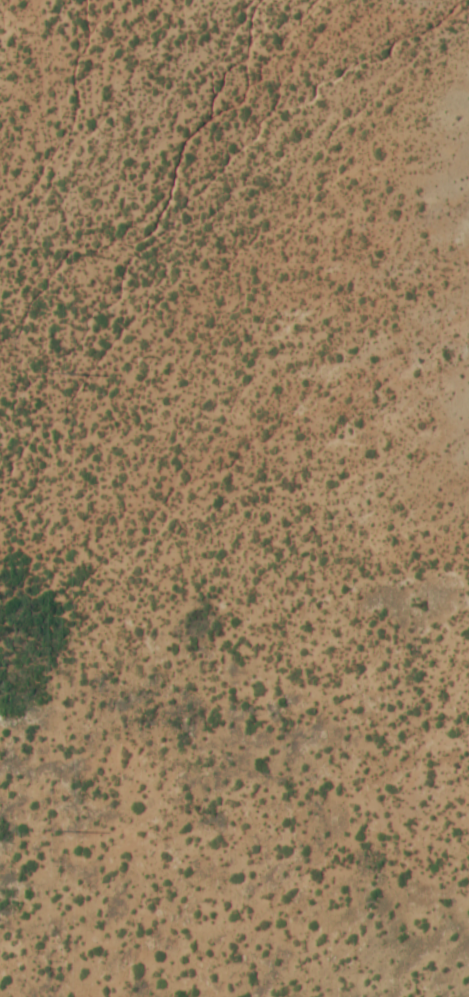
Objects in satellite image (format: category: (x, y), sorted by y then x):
power tower: (49, 373)
power tower: (52, 830)

